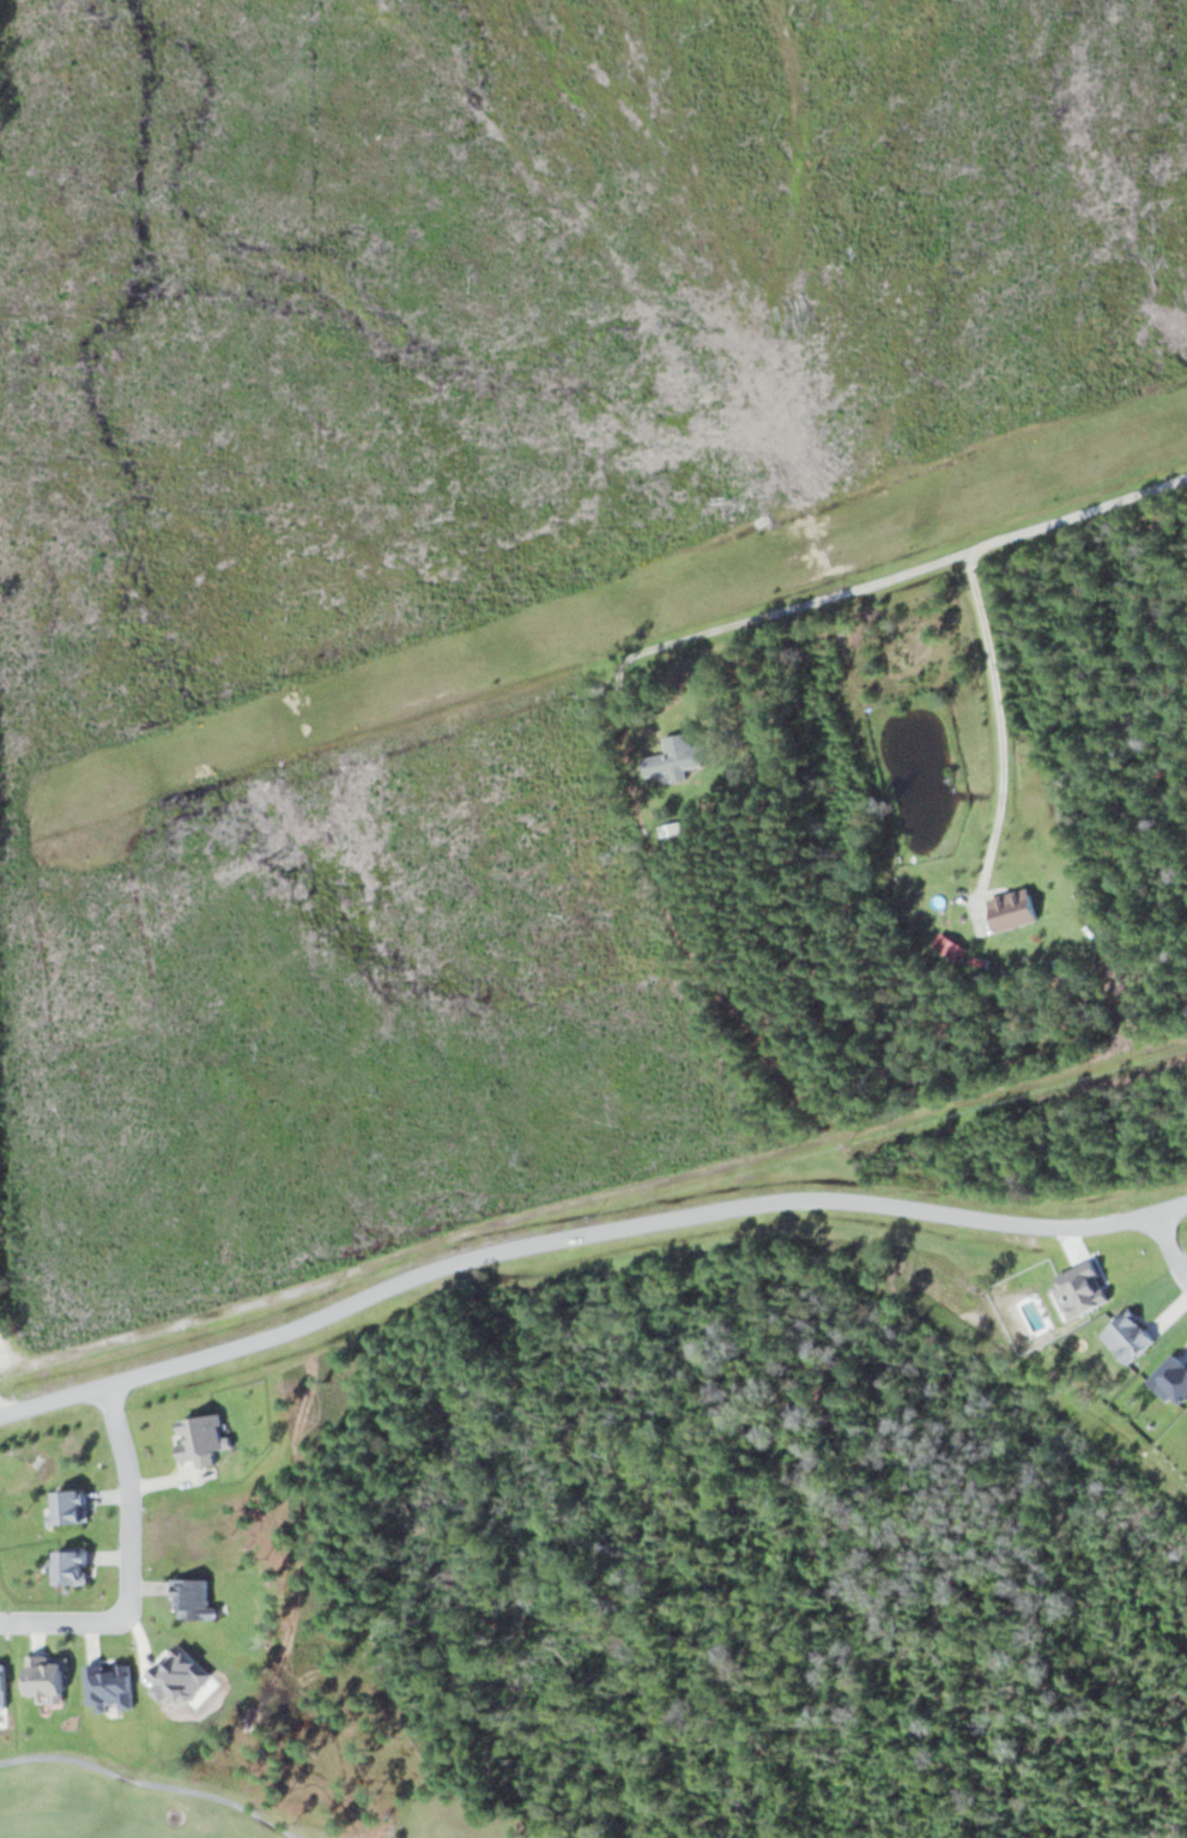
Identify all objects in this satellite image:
road: (910, 566)
airport runway: (617, 615)
building: (672, 757)
building: (1011, 908)
road: (583, 1235)
road: (1165, 1247)
building: (1127, 1336)
building: (1170, 1379)
building: (67, 1506)
road: (128, 1562)
building: (68, 1567)
building: (190, 1598)

